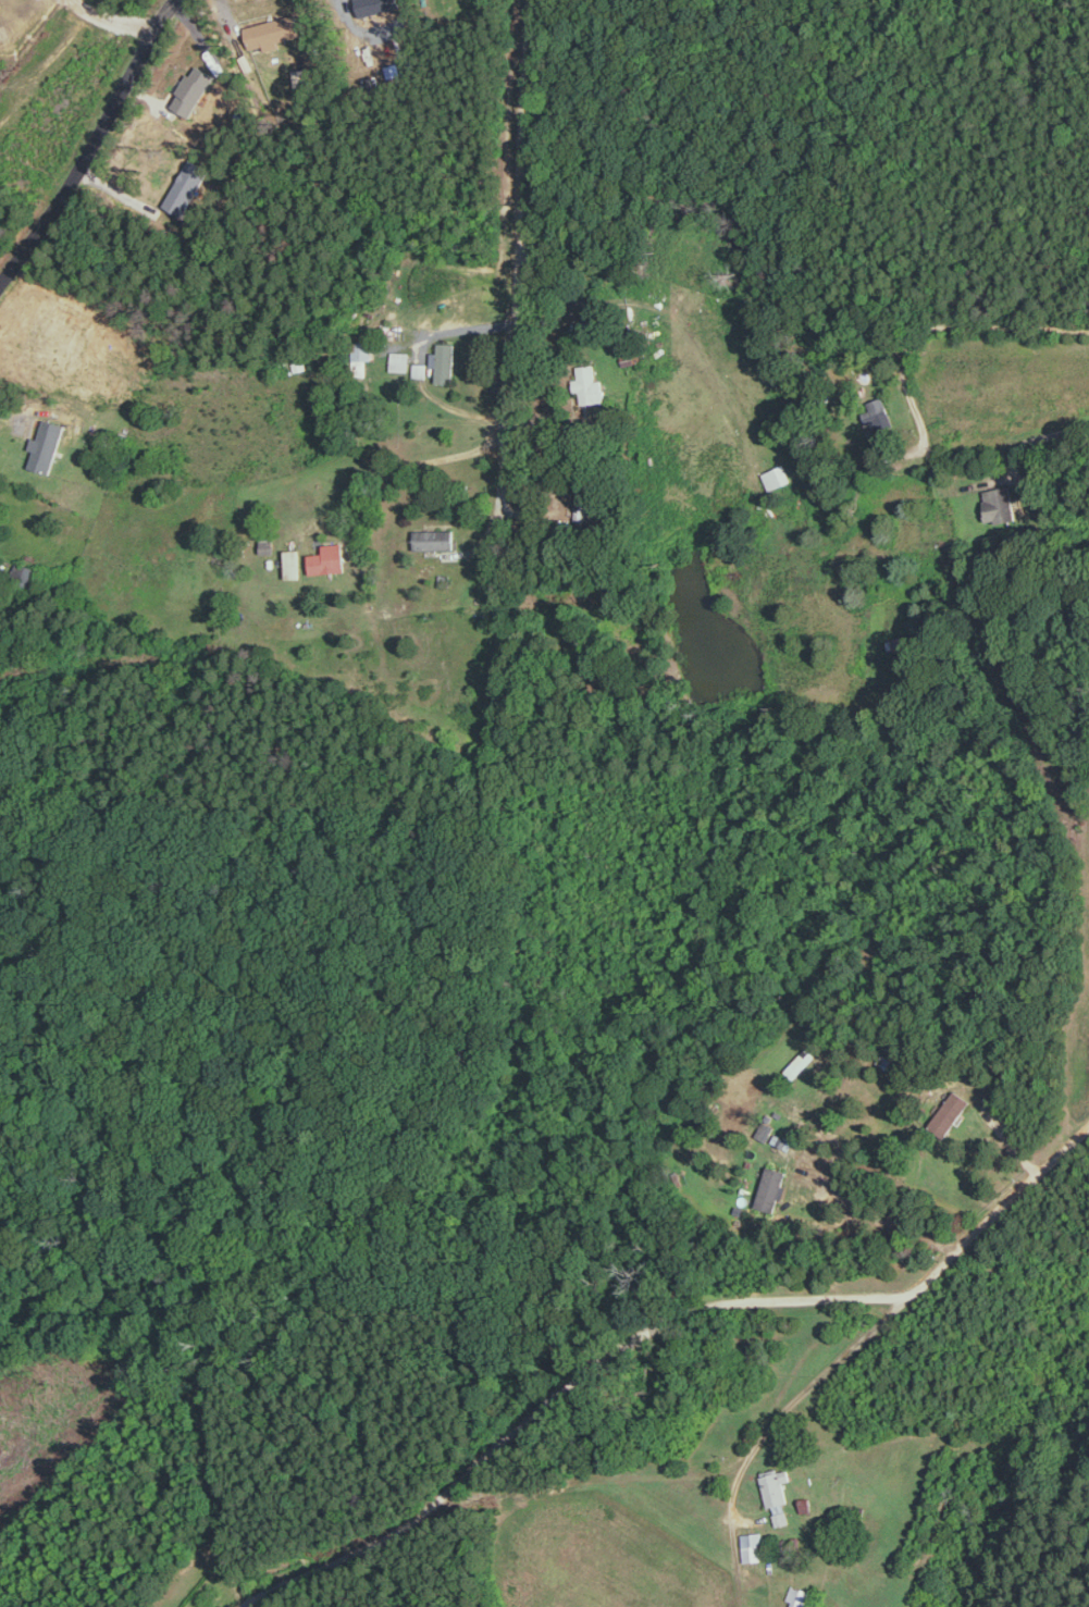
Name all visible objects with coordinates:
building: (274, 30)
road: (95, 147)
road: (519, 267)
road: (950, 325)
road: (458, 326)
building: (628, 351)
building: (362, 356)
building: (399, 360)
building: (444, 361)
building: (298, 362)
building: (419, 368)
building: (590, 385)
road: (14, 415)
building: (877, 418)
road: (1041, 436)
building: (48, 445)
building: (777, 475)
road: (500, 504)
building: (999, 504)
building: (265, 536)
building: (435, 539)
building: (329, 558)
building: (294, 563)
building: (24, 576)
building: (950, 1113)
building: (765, 1129)
building: (771, 1188)
road: (879, 1211)
road: (913, 1293)
road: (799, 1395)
road: (469, 1473)
building: (778, 1494)
building: (752, 1546)
building: (799, 1595)

